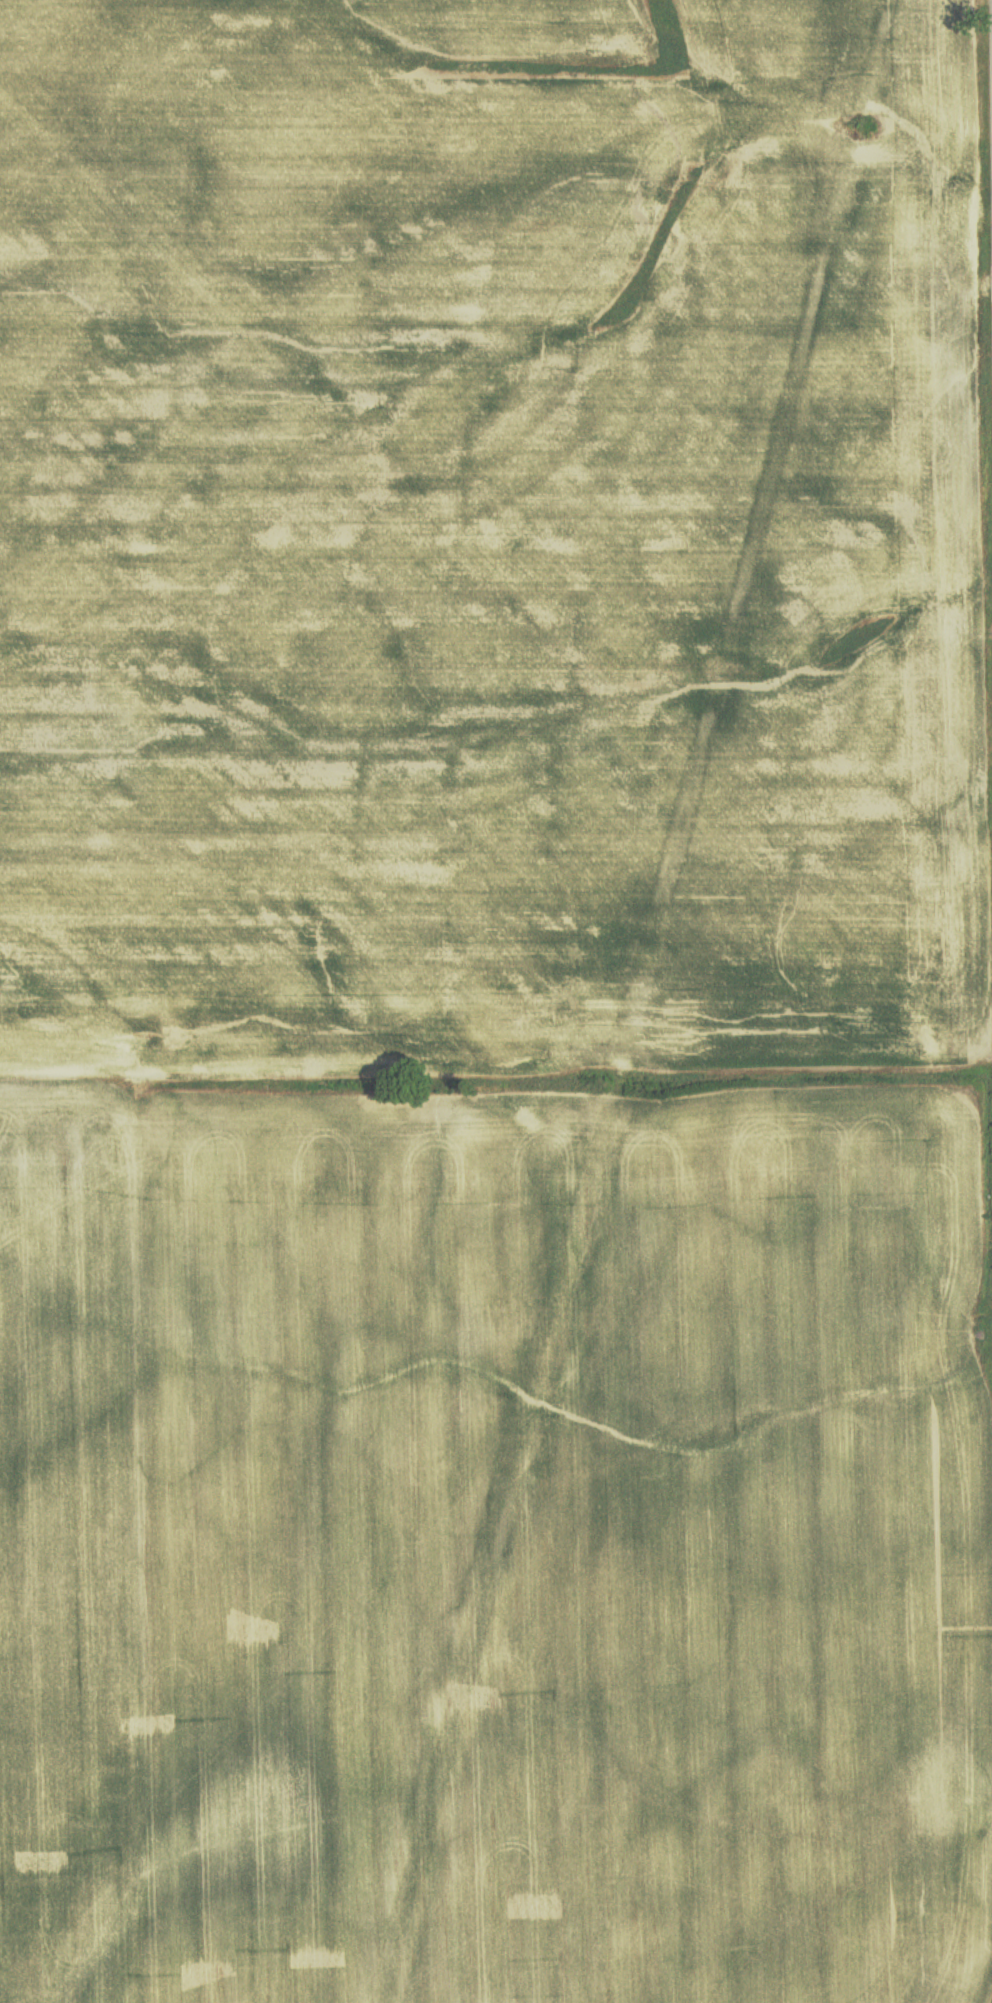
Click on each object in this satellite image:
crop: (480, 532)
crop: (497, 1571)

